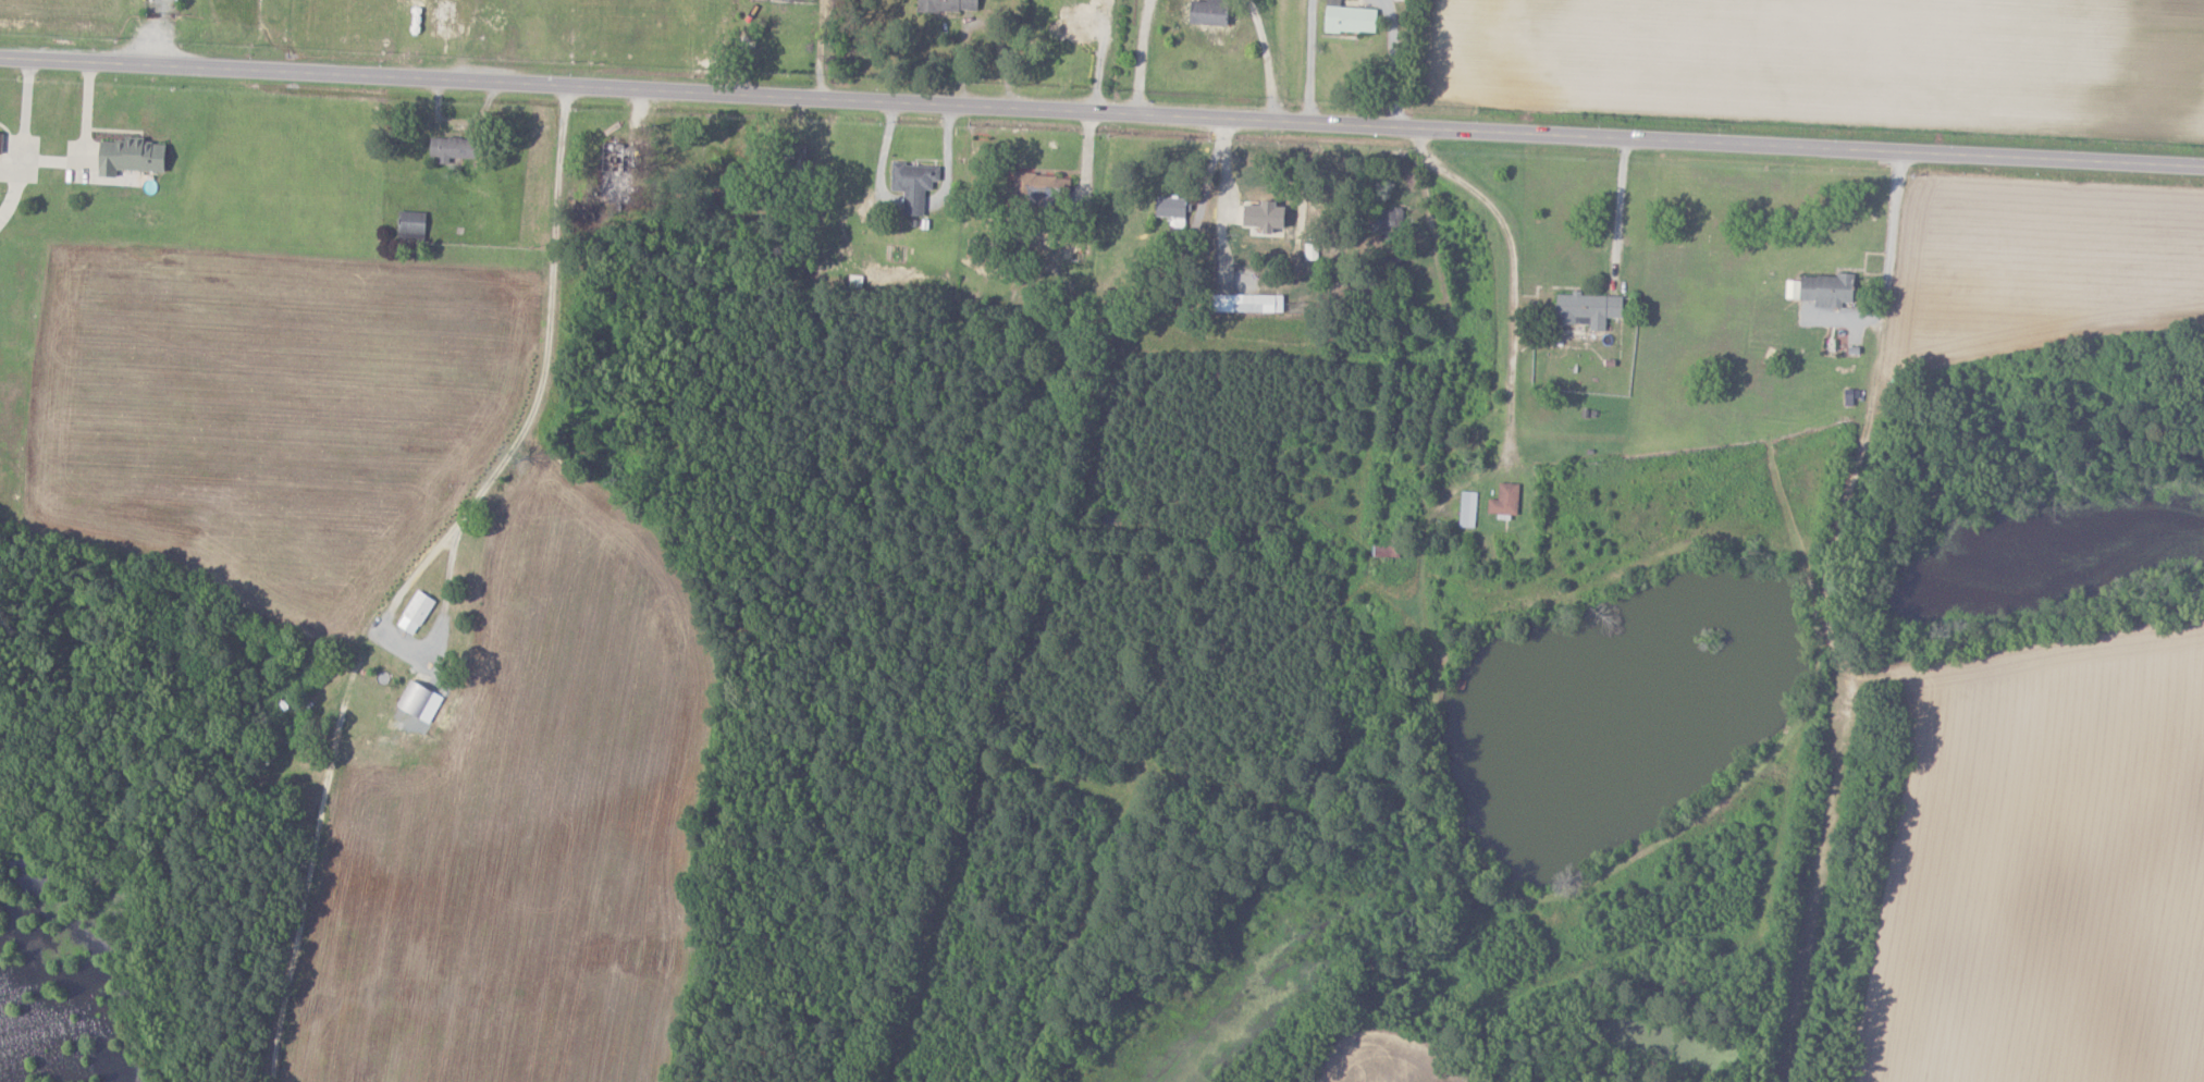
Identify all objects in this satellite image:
building: (1104, 0)
building: (944, 5)
building: (1203, 12)
building: (1346, 19)
building: (1073, 25)
road: (821, 48)
road: (1142, 57)
road: (1267, 60)
road: (1309, 61)
road: (1394, 63)
road: (1101, 112)
road: (20, 134)
road: (83, 136)
building: (447, 148)
building: (126, 157)
road: (881, 158)
road: (946, 160)
building: (613, 172)
building: (911, 185)
building: (1037, 188)
road: (911, 202)
road: (1620, 206)
building: (1169, 209)
building: (1259, 217)
building: (409, 222)
road: (1518, 278)
building: (1824, 290)
building: (1244, 304)
building: (1586, 309)
road: (550, 322)
road: (1444, 383)
building: (1503, 500)
building: (1466, 508)
road: (1819, 558)
building: (416, 606)
building: (409, 703)

